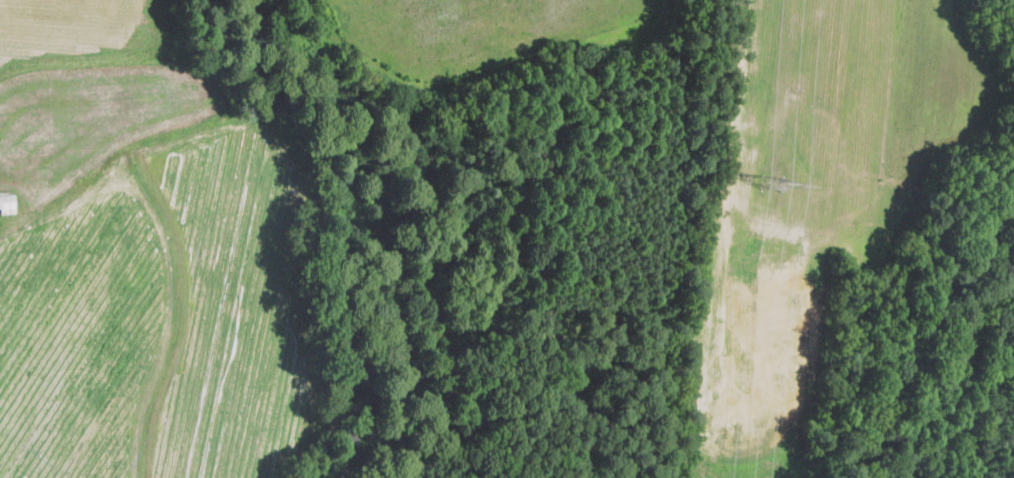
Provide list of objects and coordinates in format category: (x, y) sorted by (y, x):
power tower: (775, 185)
building: (7, 203)

